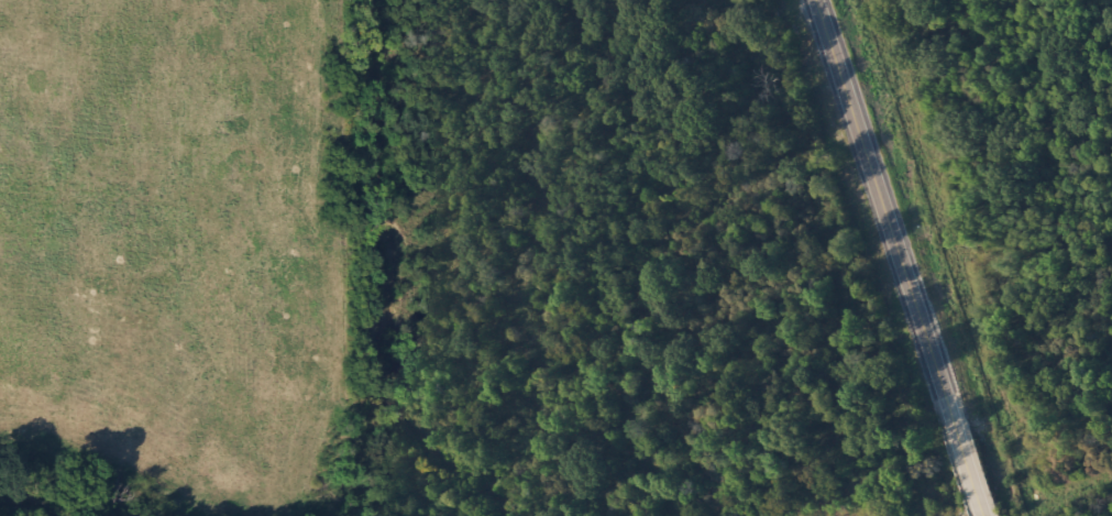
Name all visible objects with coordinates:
road: (900, 257)

